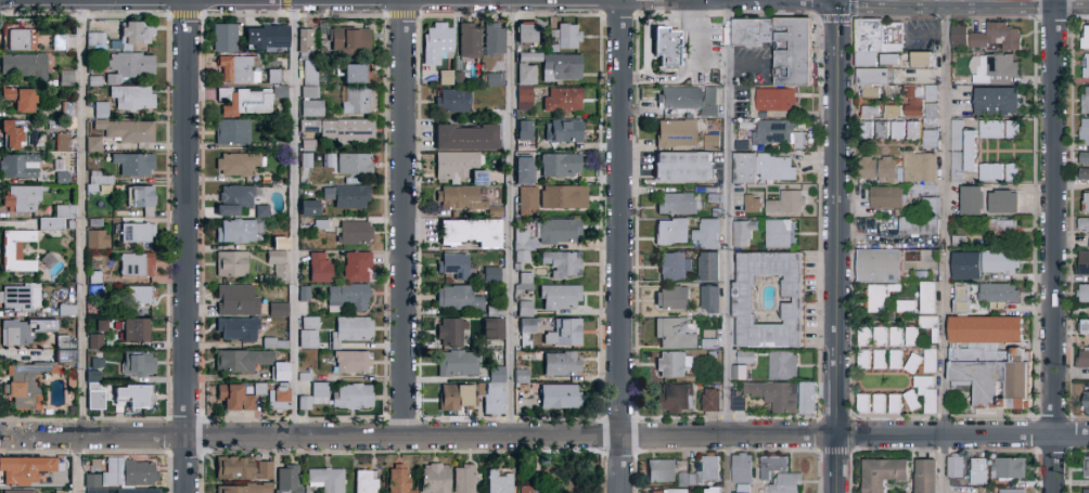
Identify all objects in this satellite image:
road: (283, 7)
road: (658, 7)
road: (964, 8)
road: (699, 9)
road: (84, 12)
road: (184, 12)
road: (292, 13)
road: (401, 13)
road: (738, 13)
road: (843, 18)
building: (526, 33)
building: (137, 34)
building: (567, 37)
building: (987, 37)
building: (225, 38)
building: (267, 38)
building: (1085, 38)
building: (20, 39)
building: (350, 40)
building: (469, 40)
building: (495, 40)
building: (95, 41)
building: (306, 41)
building: (437, 41)
building: (60, 42)
building: (781, 46)
building: (667, 47)
building: (921, 60)
building: (872, 62)
building: (130, 65)
building: (24, 66)
building: (562, 66)
building: (1086, 66)
building: (994, 68)
building: (238, 69)
building: (355, 73)
road: (645, 74)
building: (273, 77)
building: (446, 77)
building: (67, 78)
building: (310, 78)
building: (492, 78)
building: (526, 82)
building: (133, 98)
building: (21, 99)
building: (689, 99)
building: (1086, 99)
building: (562, 100)
building: (244, 101)
building: (356, 101)
building: (453, 101)
building: (774, 101)
building: (913, 101)
building: (996, 102)
building: (931, 106)
building: (311, 108)
building: (69, 109)
building: (101, 109)
building: (870, 112)
building: (892, 112)
building: (522, 129)
building: (341, 130)
building: (991, 130)
building: (1013, 130)
building: (127, 131)
building: (882, 131)
building: (912, 131)
building: (232, 132)
building: (563, 132)
building: (12, 133)
building: (676, 133)
building: (777, 133)
building: (1085, 133)
building: (465, 137)
building: (931, 141)
building: (63, 142)
building: (712, 143)
building: (93, 144)
building: (307, 144)
building: (962, 151)
building: (305, 159)
building: (328, 159)
building: (1085, 159)
building: (236, 164)
building: (355, 164)
building: (137, 165)
building: (454, 165)
building: (562, 165)
building: (18, 166)
building: (682, 167)
building: (763, 168)
building: (899, 169)
building: (524, 171)
building: (992, 172)
building: (1013, 172)
building: (1084, 176)
building: (99, 178)
building: (922, 190)
building: (348, 196)
building: (141, 197)
building: (564, 197)
building: (886, 197)
building: (459, 198)
building: (22, 199)
building: (233, 199)
building: (527, 200)
building: (972, 202)
building: (1003, 202)
building: (787, 203)
building: (678, 204)
building: (753, 204)
building: (1087, 204)
building: (309, 208)
building: (261, 210)
building: (494, 210)
road: (729, 217)
building: (56, 218)
road: (294, 218)
road: (403, 218)
road: (511, 218)
road: (78, 219)
building: (922, 220)
building: (1084, 224)
building: (1002, 229)
building: (137, 232)
building: (240, 232)
building: (471, 232)
building: (561, 232)
building: (671, 232)
building: (356, 233)
building: (743, 233)
building: (779, 234)
building: (707, 235)
building: (95, 239)
building: (1088, 242)
road: (184, 246)
building: (523, 246)
road: (618, 246)
road: (834, 246)
road: (943, 246)
road: (1052, 246)
building: (16, 251)
building: (911, 257)
building: (232, 263)
building: (453, 263)
building: (563, 263)
building: (137, 264)
building: (277, 264)
building: (982, 264)
building: (1084, 264)
building: (358, 267)
building: (675, 267)
building: (320, 268)
building: (709, 268)
building: (492, 274)
building: (879, 275)
building: (304, 294)
building: (999, 294)
building: (1084, 294)
building: (140, 296)
building: (349, 296)
building: (20, 298)
building: (459, 298)
building: (560, 298)
building: (927, 298)
building: (961, 298)
building: (236, 299)
building: (671, 299)
building: (710, 299)
building: (768, 300)
building: (906, 307)
building: (526, 309)
building: (66, 310)
building: (279, 310)
building: (927, 323)
building: (100, 325)
building: (351, 328)
building: (494, 328)
building: (238, 329)
building: (1085, 329)
building: (24, 330)
building: (134, 330)
building: (985, 332)
building: (308, 333)
building: (452, 333)
building: (564, 333)
building: (674, 334)
building: (527, 335)
building: (872, 337)
building: (896, 337)
building: (911, 337)
building: (710, 339)
building: (94, 342)
building: (65, 351)
building: (1081, 359)
building: (242, 360)
building: (863, 360)
building: (895, 360)
building: (879, 361)
building: (353, 362)
building: (139, 363)
building: (459, 363)
building: (563, 363)
building: (672, 364)
building: (912, 364)
building: (782, 366)
building: (280, 371)
building: (522, 378)
building: (997, 380)
building: (928, 384)
building: (24, 385)
building: (94, 386)
building: (496, 391)
building: (133, 395)
building: (353, 395)
building: (776, 395)
building: (316, 397)
building: (457, 397)
building: (560, 397)
building: (233, 398)
building: (674, 398)
building: (278, 399)
building: (807, 399)
building: (712, 400)
building: (912, 401)
building: (1086, 402)
building: (863, 404)
building: (879, 404)
building: (894, 405)
road: (543, 434)
road: (728, 464)
road: (76, 465)
building: (234, 468)
building: (741, 468)
building: (957, 468)
building: (1086, 468)
building: (1009, 469)
building: (29, 470)
building: (264, 470)
building: (130, 471)
building: (661, 471)
building: (704, 472)
building: (978, 472)
building: (883, 473)
building: (778, 477)
building: (925, 477)
building: (435, 478)
building: (289, 479)
building: (400, 479)
building: (464, 479)
building: (91, 480)
building: (326, 480)
building: (499, 481)
building: (367, 482)
building: (243, 489)
building: (526, 490)
building: (17, 491)
building: (134, 491)
building: (674, 491)
building: (712, 491)
building: (1008, 491)
building: (1086, 491)

